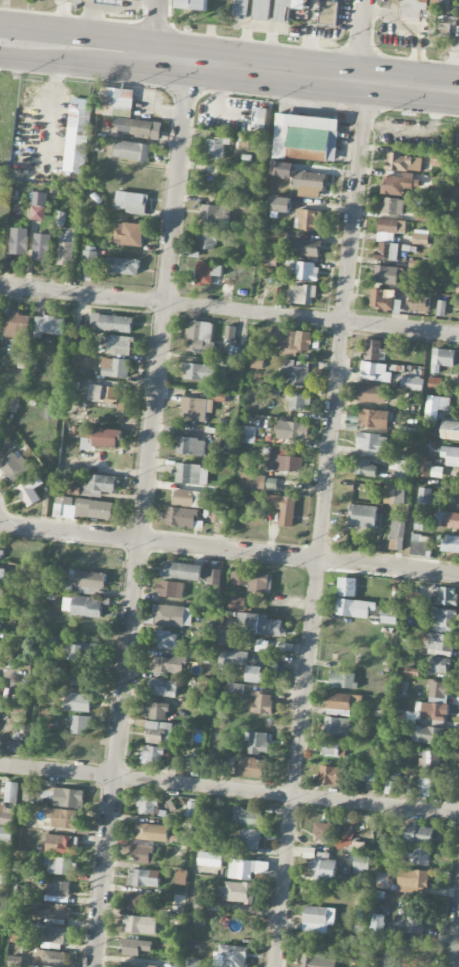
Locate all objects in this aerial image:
building: (110, 2)
building: (193, 5)
building: (240, 9)
building: (286, 9)
building: (262, 10)
building: (328, 13)
building: (434, 14)
road: (160, 21)
road: (97, 35)
road: (359, 40)
road: (94, 66)
road: (323, 77)
building: (116, 101)
building: (259, 117)
building: (305, 122)
building: (136, 128)
building: (78, 135)
building: (306, 144)
building: (216, 149)
building: (131, 151)
building: (403, 163)
building: (282, 169)
building: (310, 184)
building: (395, 185)
building: (455, 192)
building: (131, 203)
building: (39, 206)
building: (393, 206)
building: (280, 207)
building: (214, 215)
building: (309, 220)
building: (390, 229)
building: (129, 235)
building: (422, 238)
building: (207, 240)
building: (19, 242)
building: (41, 247)
building: (306, 248)
building: (386, 252)
building: (65, 253)
building: (89, 261)
building: (270, 261)
building: (123, 266)
building: (303, 270)
building: (207, 273)
building: (385, 275)
building: (276, 295)
building: (301, 295)
building: (384, 300)
building: (419, 303)
building: (441, 309)
road: (229, 310)
building: (112, 323)
building: (16, 325)
building: (49, 326)
building: (229, 335)
building: (199, 337)
building: (292, 341)
building: (120, 345)
building: (374, 351)
building: (442, 359)
building: (115, 368)
building: (199, 372)
building: (294, 373)
building: (376, 373)
building: (411, 384)
building: (435, 384)
building: (371, 394)
building: (109, 397)
building: (219, 398)
building: (299, 401)
building: (13, 405)
building: (435, 407)
building: (194, 409)
building: (49, 411)
building: (373, 419)
building: (293, 431)
building: (450, 431)
building: (249, 435)
building: (99, 438)
building: (227, 443)
building: (190, 447)
building: (406, 456)
building: (451, 457)
building: (283, 462)
building: (13, 467)
building: (365, 468)
building: (402, 469)
building: (426, 469)
building: (191, 474)
building: (252, 482)
building: (98, 485)
building: (72, 490)
building: (30, 491)
building: (424, 496)
building: (189, 499)
building: (64, 501)
building: (282, 509)
building: (95, 510)
road: (142, 515)
building: (362, 517)
building: (180, 518)
road: (231, 519)
building: (447, 520)
road: (321, 524)
building: (419, 525)
road: (410, 529)
building: (397, 537)
building: (450, 544)
building: (419, 545)
building: (0, 547)
road: (229, 555)
building: (182, 571)
building: (213, 577)
building: (251, 581)
building: (84, 583)
building: (347, 587)
building: (170, 590)
building: (446, 596)
building: (1, 598)
building: (208, 602)
building: (237, 604)
building: (81, 606)
building: (354, 608)
building: (390, 614)
building: (172, 616)
building: (444, 620)
building: (258, 625)
building: (226, 638)
building: (167, 641)
building: (438, 642)
building: (81, 652)
building: (439, 653)
building: (232, 659)
building: (167, 665)
building: (438, 665)
building: (262, 672)
building: (83, 677)
building: (343, 680)
building: (0, 682)
building: (164, 688)
building: (235, 688)
building: (51, 692)
building: (438, 692)
building: (22, 696)
building: (79, 702)
building: (263, 704)
building: (339, 704)
building: (156, 711)
building: (382, 712)
building: (426, 713)
building: (80, 725)
building: (336, 727)
building: (159, 733)
building: (427, 735)
building: (258, 743)
building: (14, 747)
building: (330, 748)
building: (152, 755)
building: (429, 759)
building: (251, 768)
building: (328, 775)
building: (369, 775)
building: (390, 786)
building: (424, 788)
road: (229, 790)
building: (11, 793)
building: (56, 796)
building: (147, 805)
building: (6, 815)
building: (207, 816)
building: (247, 817)
building: (64, 819)
building: (151, 833)
building: (6, 834)
building: (323, 834)
building: (419, 835)
building: (248, 840)
building: (61, 845)
building: (143, 853)
building: (418, 857)
building: (210, 860)
building: (360, 865)
building: (60, 866)
building: (323, 868)
building: (247, 869)
building: (143, 878)
building: (382, 880)
building: (413, 881)
building: (58, 889)
building: (238, 893)
building: (141, 903)
building: (53, 911)
building: (318, 919)
building: (376, 924)
building: (140, 925)
building: (408, 925)
building: (52, 937)
building: (135, 947)
road: (456, 947)
building: (230, 957)
building: (54, 959)
building: (314, 961)
building: (14, 962)
building: (194, 963)
building: (137, 965)

